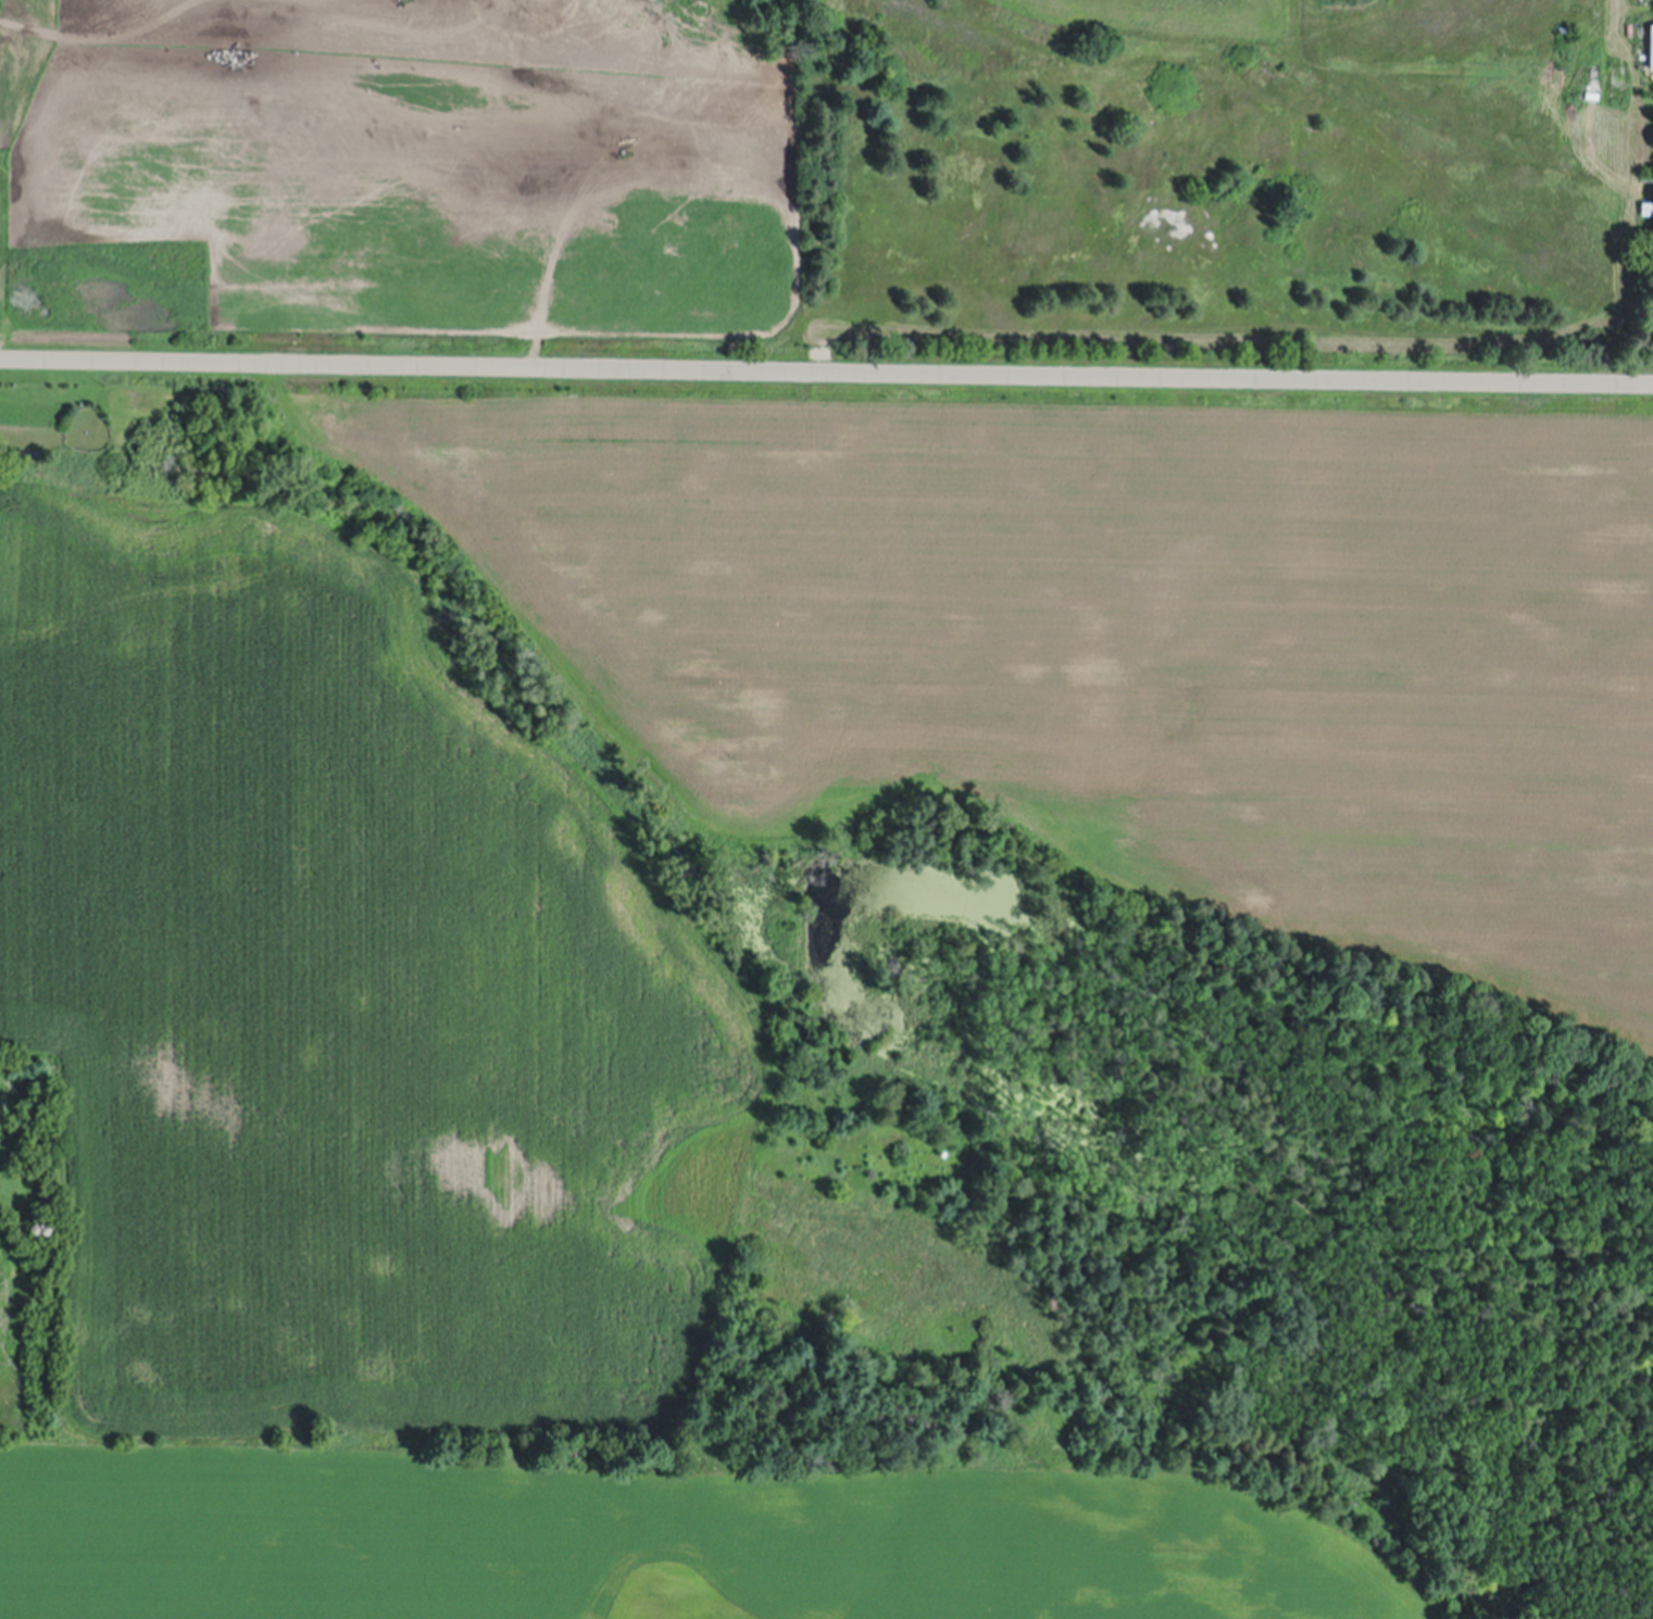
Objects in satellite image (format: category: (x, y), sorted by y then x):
building: (1652, 45)
road: (826, 368)
building: (34, 1225)
building: (46, 1226)

